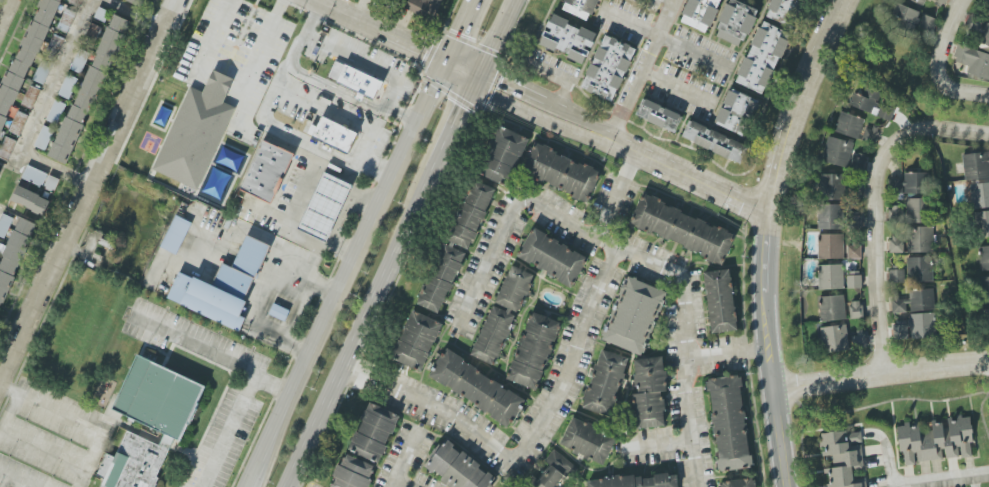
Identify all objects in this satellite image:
road: (670, 1)
building: (987, 1)
building: (136, 2)
building: (919, 2)
building: (938, 2)
building: (423, 7)
building: (581, 8)
building: (786, 11)
road: (5, 12)
road: (138, 14)
building: (701, 14)
building: (904, 18)
building: (736, 22)
building: (926, 24)
building: (977, 29)
road: (396, 38)
road: (497, 38)
building: (568, 39)
road: (667, 42)
building: (54, 47)
building: (762, 58)
road: (363, 61)
traffic signals: (446, 61)
building: (973, 61)
road: (941, 62)
road: (236, 64)
building: (608, 68)
road: (643, 69)
road: (284, 72)
road: (56, 76)
traffic signals: (480, 77)
road: (563, 80)
road: (322, 83)
building: (354, 84)
building: (90, 89)
road: (676, 90)
road: (273, 92)
building: (31, 97)
building: (870, 102)
building: (737, 112)
building: (659, 115)
road: (457, 124)
building: (849, 125)
building: (195, 131)
road: (969, 132)
building: (333, 134)
building: (870, 134)
building: (714, 141)
road: (624, 145)
building: (7, 149)
building: (837, 151)
building: (503, 156)
road: (34, 158)
road: (377, 163)
building: (857, 163)
building: (976, 165)
building: (266, 171)
building: (561, 172)
building: (40, 178)
building: (834, 186)
road: (90, 193)
road: (297, 195)
building: (914, 195)
building: (980, 195)
building: (31, 200)
building: (319, 204)
building: (896, 213)
building: (829, 216)
building: (982, 224)
road: (874, 226)
building: (682, 229)
building: (176, 235)
road: (767, 237)
building: (920, 239)
road: (360, 243)
building: (895, 244)
building: (831, 246)
building: (456, 247)
building: (854, 251)
road: (621, 253)
building: (552, 257)
building: (984, 258)
building: (919, 269)
building: (896, 276)
building: (831, 277)
building: (854, 279)
building: (223, 284)
building: (985, 289)
building: (922, 300)
building: (720, 301)
building: (900, 306)
building: (832, 308)
building: (856, 309)
building: (502, 316)
building: (634, 316)
building: (986, 321)
building: (916, 327)
road: (362, 329)
building: (835, 339)
building: (417, 341)
building: (534, 351)
road: (725, 354)
road: (880, 375)
road: (249, 378)
building: (605, 383)
road: (270, 387)
building: (477, 388)
road: (545, 391)
building: (649, 393)
road: (37, 401)
building: (146, 420)
building: (729, 423)
building: (373, 433)
parking lot: (225, 437)
building: (588, 441)
building: (936, 441)
parking lot: (48, 442)
road: (656, 446)
road: (44, 453)
road: (407, 454)
road: (88, 458)
building: (844, 458)
road: (887, 464)
building: (458, 467)
building: (553, 471)
building: (353, 473)
road: (940, 479)
building: (638, 481)
road: (399, 482)
building: (739, 483)
road: (5, 484)

